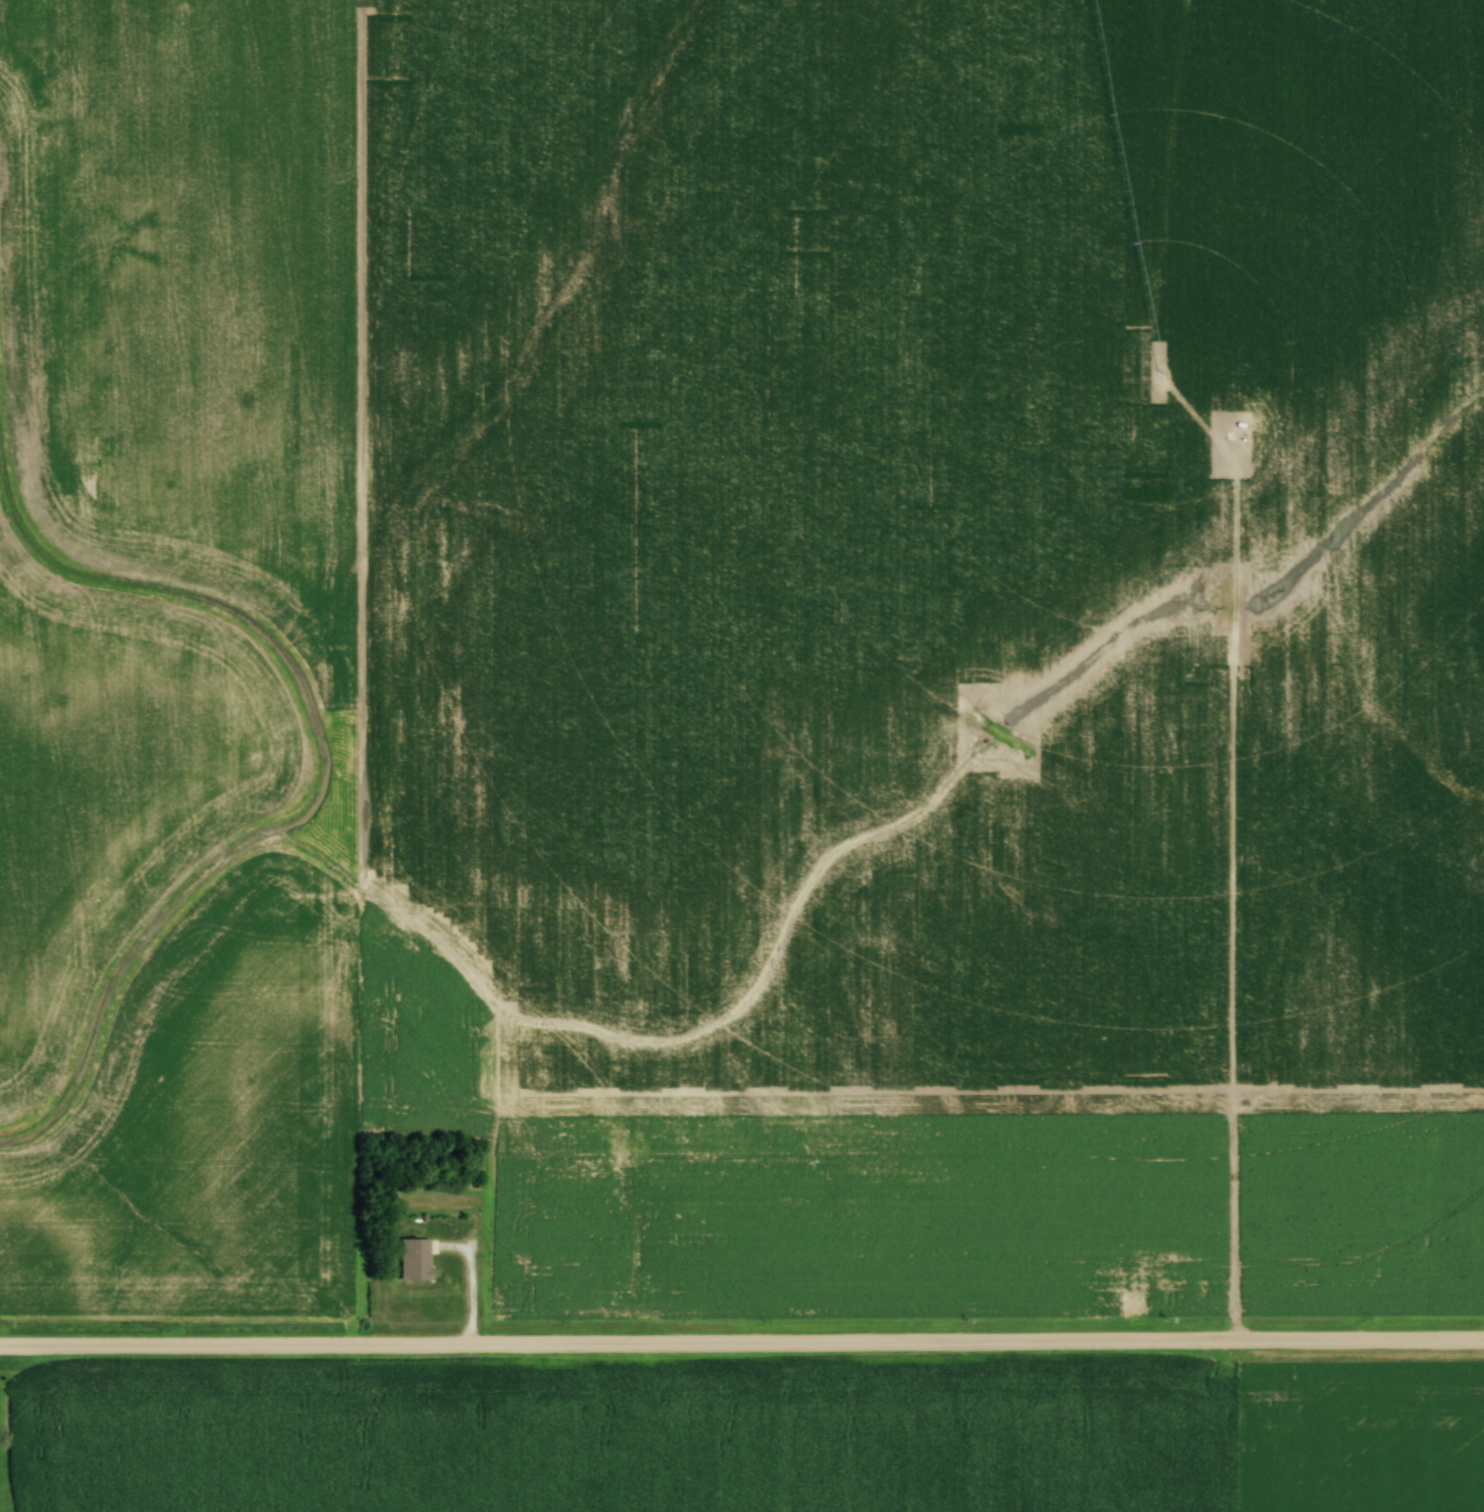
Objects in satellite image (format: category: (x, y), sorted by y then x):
building: (413, 1260)
road: (471, 1291)
road: (741, 1346)

